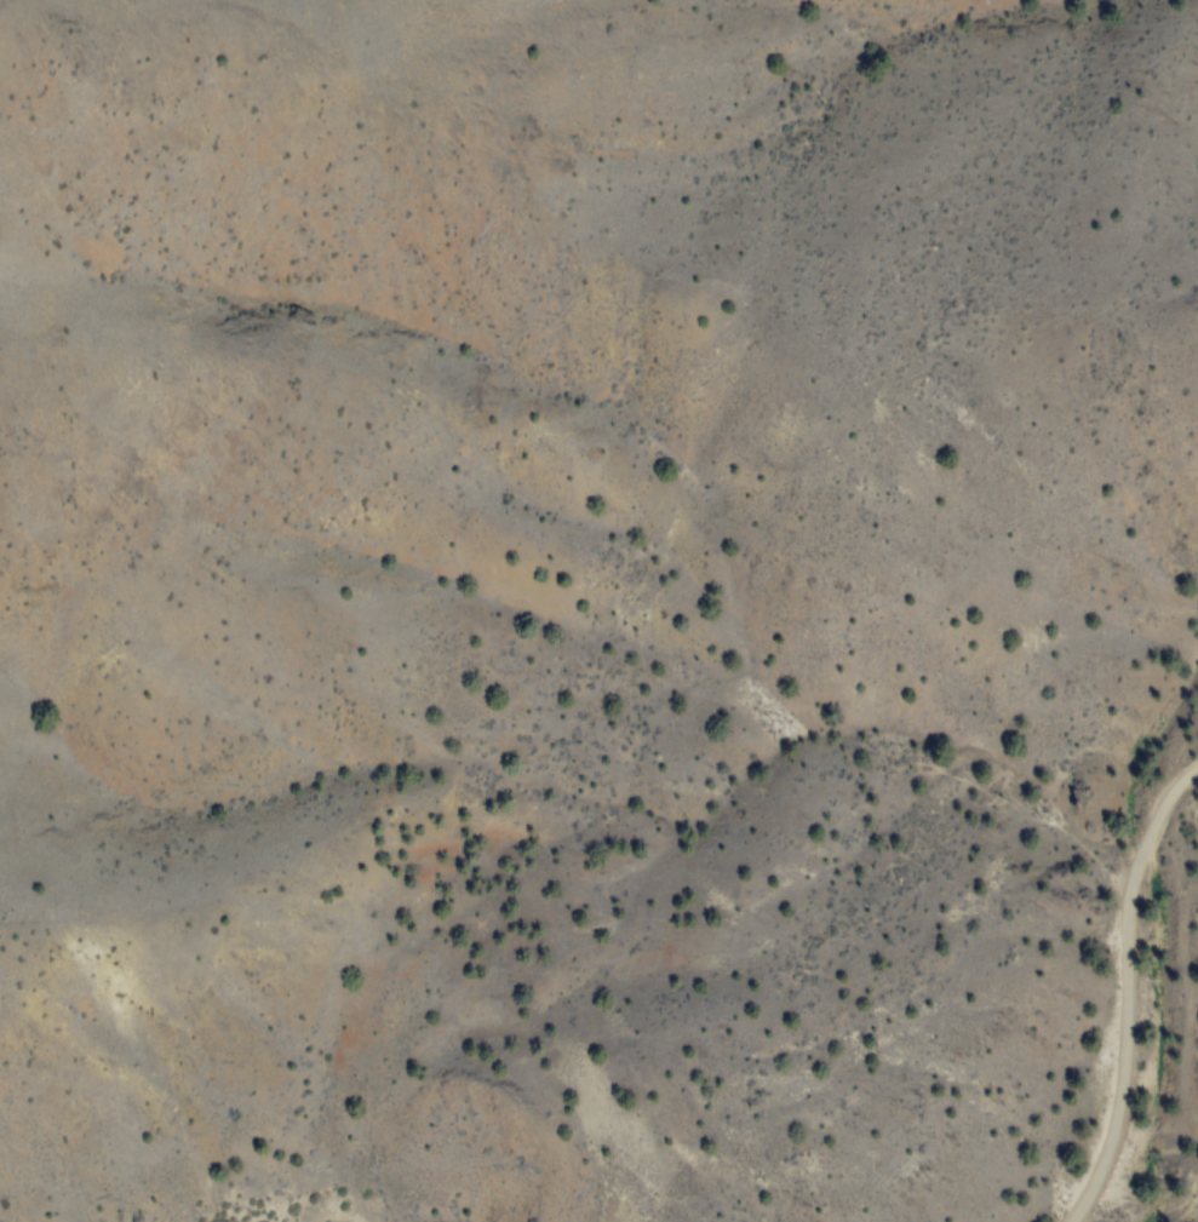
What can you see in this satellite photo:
road: (1125, 986)

